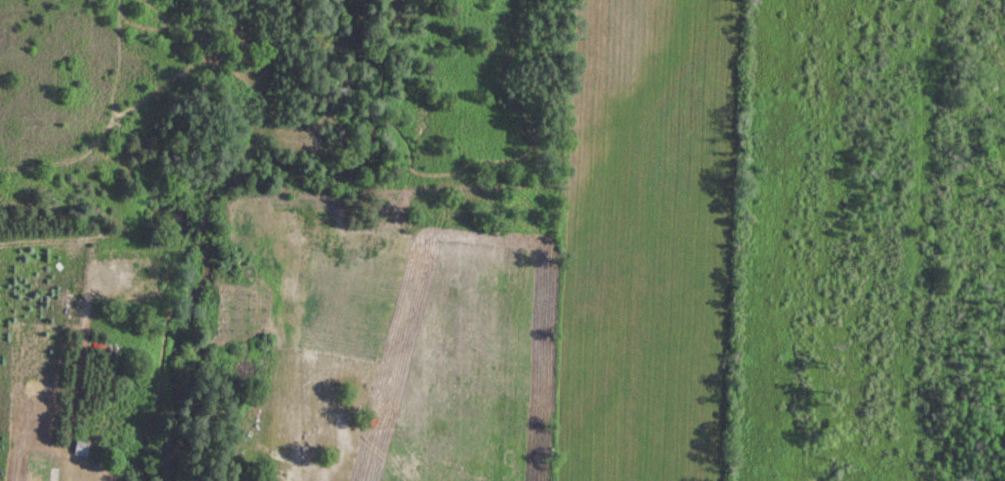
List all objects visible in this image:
building: (78, 448)

